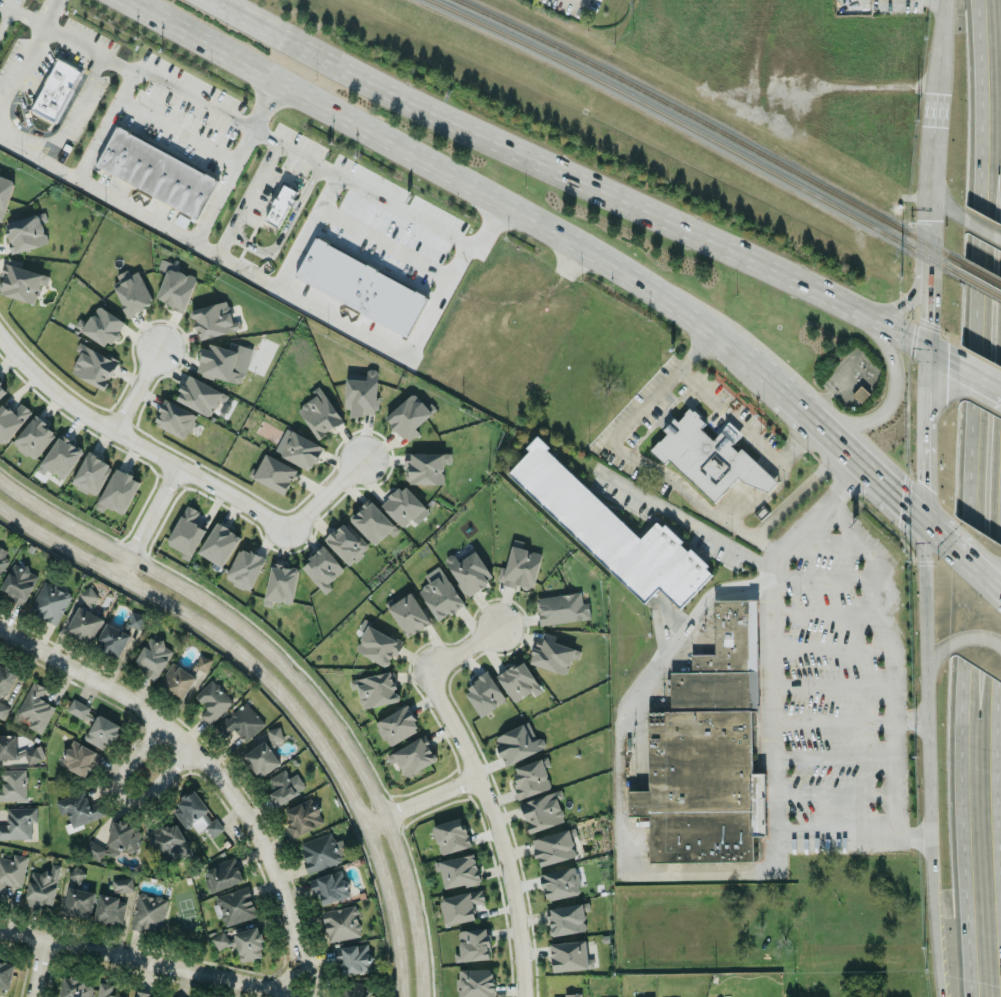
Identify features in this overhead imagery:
road: (4, 18)
road: (34, 25)
road: (939, 43)
road: (21, 73)
building: (57, 90)
road: (171, 92)
road: (73, 108)
railway: (711, 124)
road: (177, 128)
railway: (698, 130)
road: (478, 133)
road: (39, 156)
road: (419, 160)
building: (157, 171)
road: (928, 175)
road: (223, 184)
road: (252, 187)
building: (5, 192)
road: (939, 197)
building: (281, 204)
road: (414, 208)
road: (323, 215)
road: (981, 227)
building: (26, 232)
road: (202, 241)
road: (390, 246)
road: (241, 263)
railway: (980, 270)
building: (21, 280)
railway: (979, 283)
building: (360, 285)
road: (806, 286)
building: (176, 288)
building: (133, 292)
road: (904, 299)
road: (924, 306)
building: (214, 319)
building: (102, 325)
road: (895, 331)
road: (730, 342)
traffic signals: (923, 347)
road: (415, 349)
road: (940, 356)
building: (225, 361)
building: (94, 365)
road: (766, 373)
road: (979, 377)
road: (139, 386)
building: (2, 389)
road: (828, 391)
building: (362, 393)
building: (861, 393)
building: (199, 394)
road: (889, 396)
road: (800, 406)
building: (320, 413)
building: (409, 415)
building: (175, 418)
building: (11, 420)
road: (922, 434)
road: (746, 435)
building: (34, 437)
building: (300, 449)
building: (709, 455)
building: (61, 457)
building: (425, 467)
road: (182, 468)
building: (275, 472)
road: (868, 472)
building: (92, 473)
road: (668, 478)
building: (118, 491)
road: (748, 491)
road: (970, 498)
building: (403, 504)
road: (686, 519)
road: (147, 520)
building: (373, 521)
traffic signals: (922, 522)
building: (611, 530)
building: (187, 531)
road: (936, 534)
road: (765, 541)
building: (346, 542)
building: (219, 543)
building: (4, 556)
building: (520, 566)
building: (245, 567)
building: (322, 568)
road: (975, 569)
building: (469, 570)
road: (823, 575)
building: (19, 582)
building: (282, 582)
building: (441, 596)
building: (50, 601)
building: (82, 601)
road: (820, 607)
building: (562, 608)
building: (409, 613)
road: (873, 616)
building: (85, 623)
road: (973, 634)
building: (113, 640)
building: (378, 644)
road: (924, 645)
road: (828, 647)
building: (552, 653)
building: (154, 655)
road: (934, 655)
building: (203, 663)
road: (290, 677)
building: (6, 679)
building: (177, 680)
building: (519, 681)
road: (833, 686)
building: (376, 689)
road: (278, 692)
building: (484, 693)
building: (213, 700)
road: (775, 703)
building: (36, 707)
building: (3, 708)
road: (835, 719)
building: (242, 721)
building: (95, 724)
building: (397, 725)
road: (994, 729)
building: (275, 733)
building: (518, 742)
building: (8, 746)
building: (708, 750)
building: (27, 753)
building: (415, 755)
building: (80, 757)
building: (262, 758)
road: (835, 758)
road: (215, 774)
road: (894, 774)
building: (531, 777)
road: (620, 780)
building: (13, 784)
building: (285, 786)
road: (482, 790)
road: (837, 792)
road: (121, 795)
road: (429, 797)
road: (927, 798)
building: (79, 808)
building: (543, 810)
building: (196, 814)
building: (303, 818)
road: (373, 821)
building: (19, 822)
building: (451, 835)
building: (124, 836)
building: (170, 842)
building: (554, 846)
road: (929, 848)
building: (319, 852)
building: (12, 870)
building: (459, 870)
building: (224, 873)
building: (74, 877)
building: (561, 882)
building: (122, 884)
building: (43, 886)
building: (330, 887)
building: (79, 901)
building: (236, 905)
building: (461, 906)
building: (110, 908)
building: (149, 912)
building: (566, 918)
building: (341, 922)
road: (934, 933)
building: (222, 940)
building: (249, 943)
building: (473, 944)
building: (570, 955)
building: (353, 957)
road: (136, 961)
road: (39, 970)
building: (6, 974)
building: (476, 982)
building: (76, 987)
building: (105, 990)
building: (358, 990)
building: (143, 994)
building: (572, 994)
building: (649, 996)

